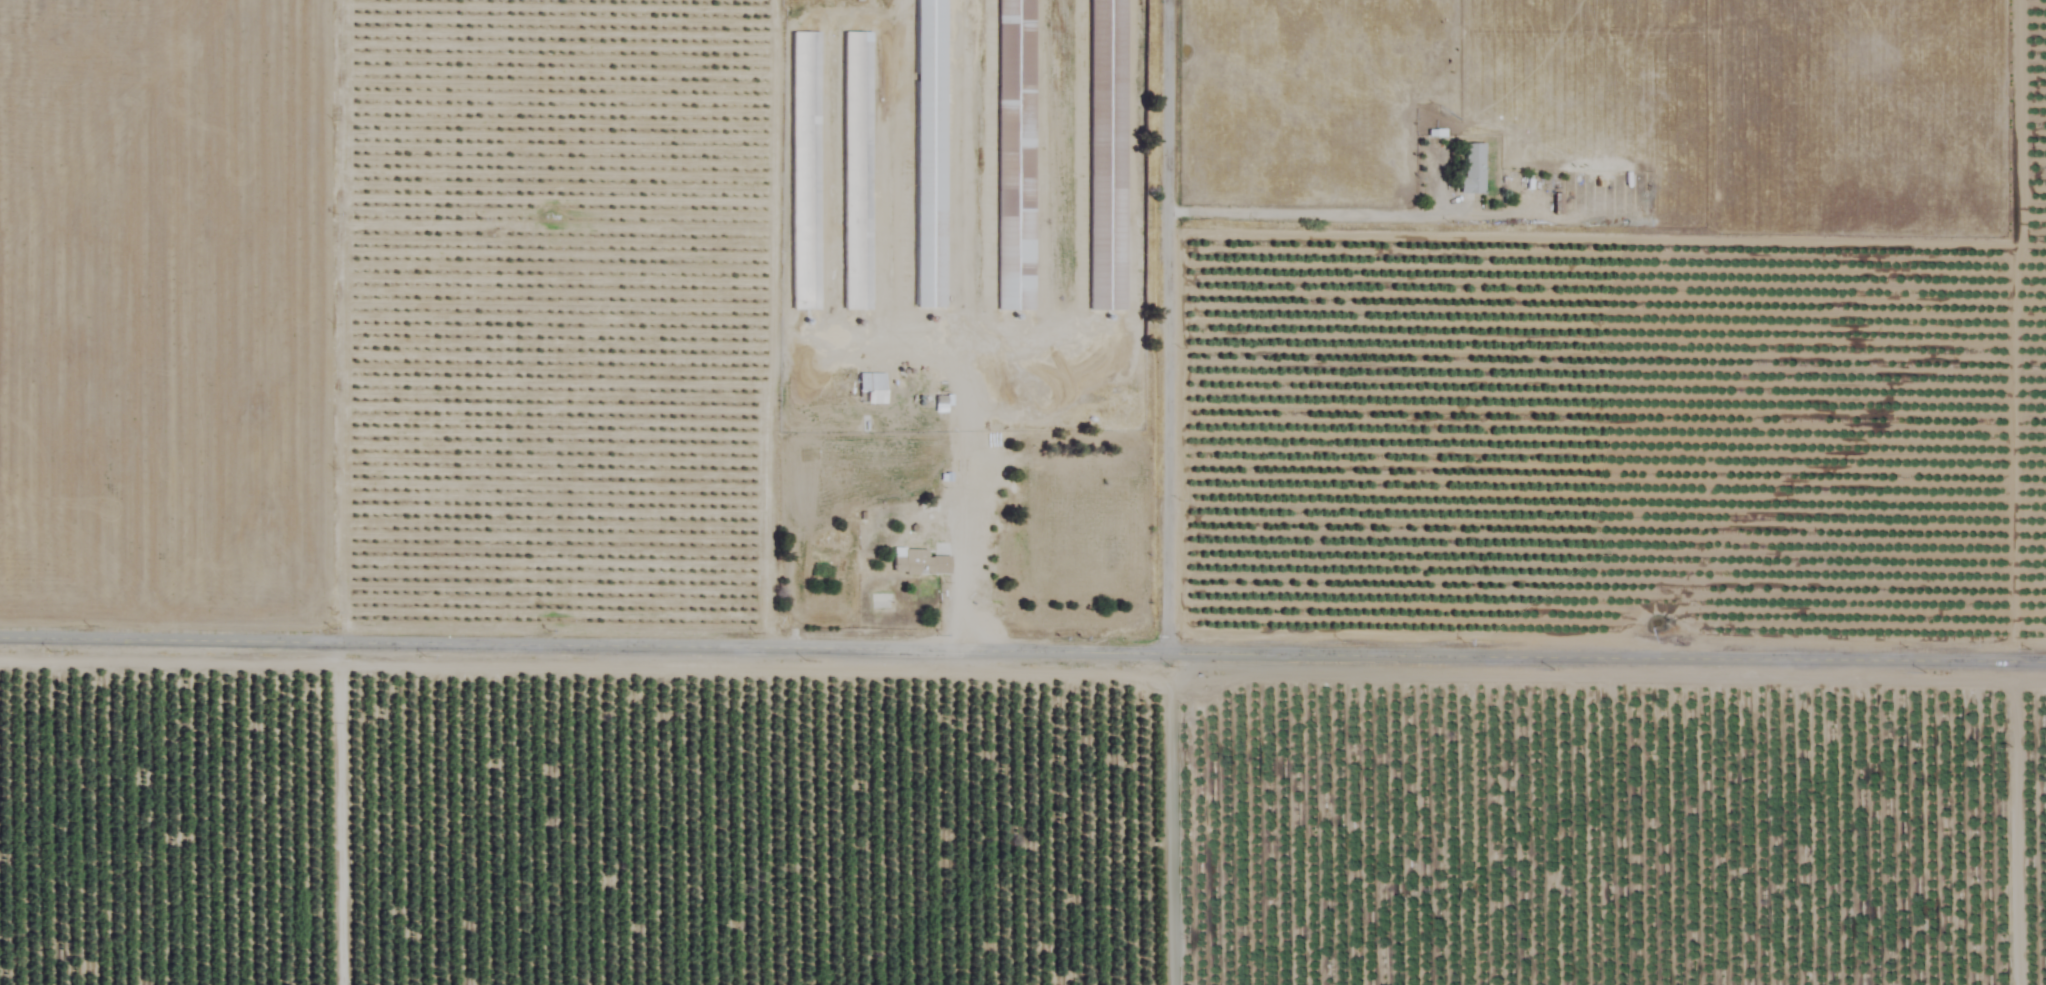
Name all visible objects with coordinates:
building: (931, 153)
building: (1016, 155)
building: (1108, 155)
building: (1473, 168)
building: (806, 171)
building: (858, 171)
road: (1314, 214)
road: (1169, 323)
road: (1068, 328)
building: (872, 388)
road: (965, 457)
building: (918, 562)
crop: (1615, 563)
road: (1023, 645)

